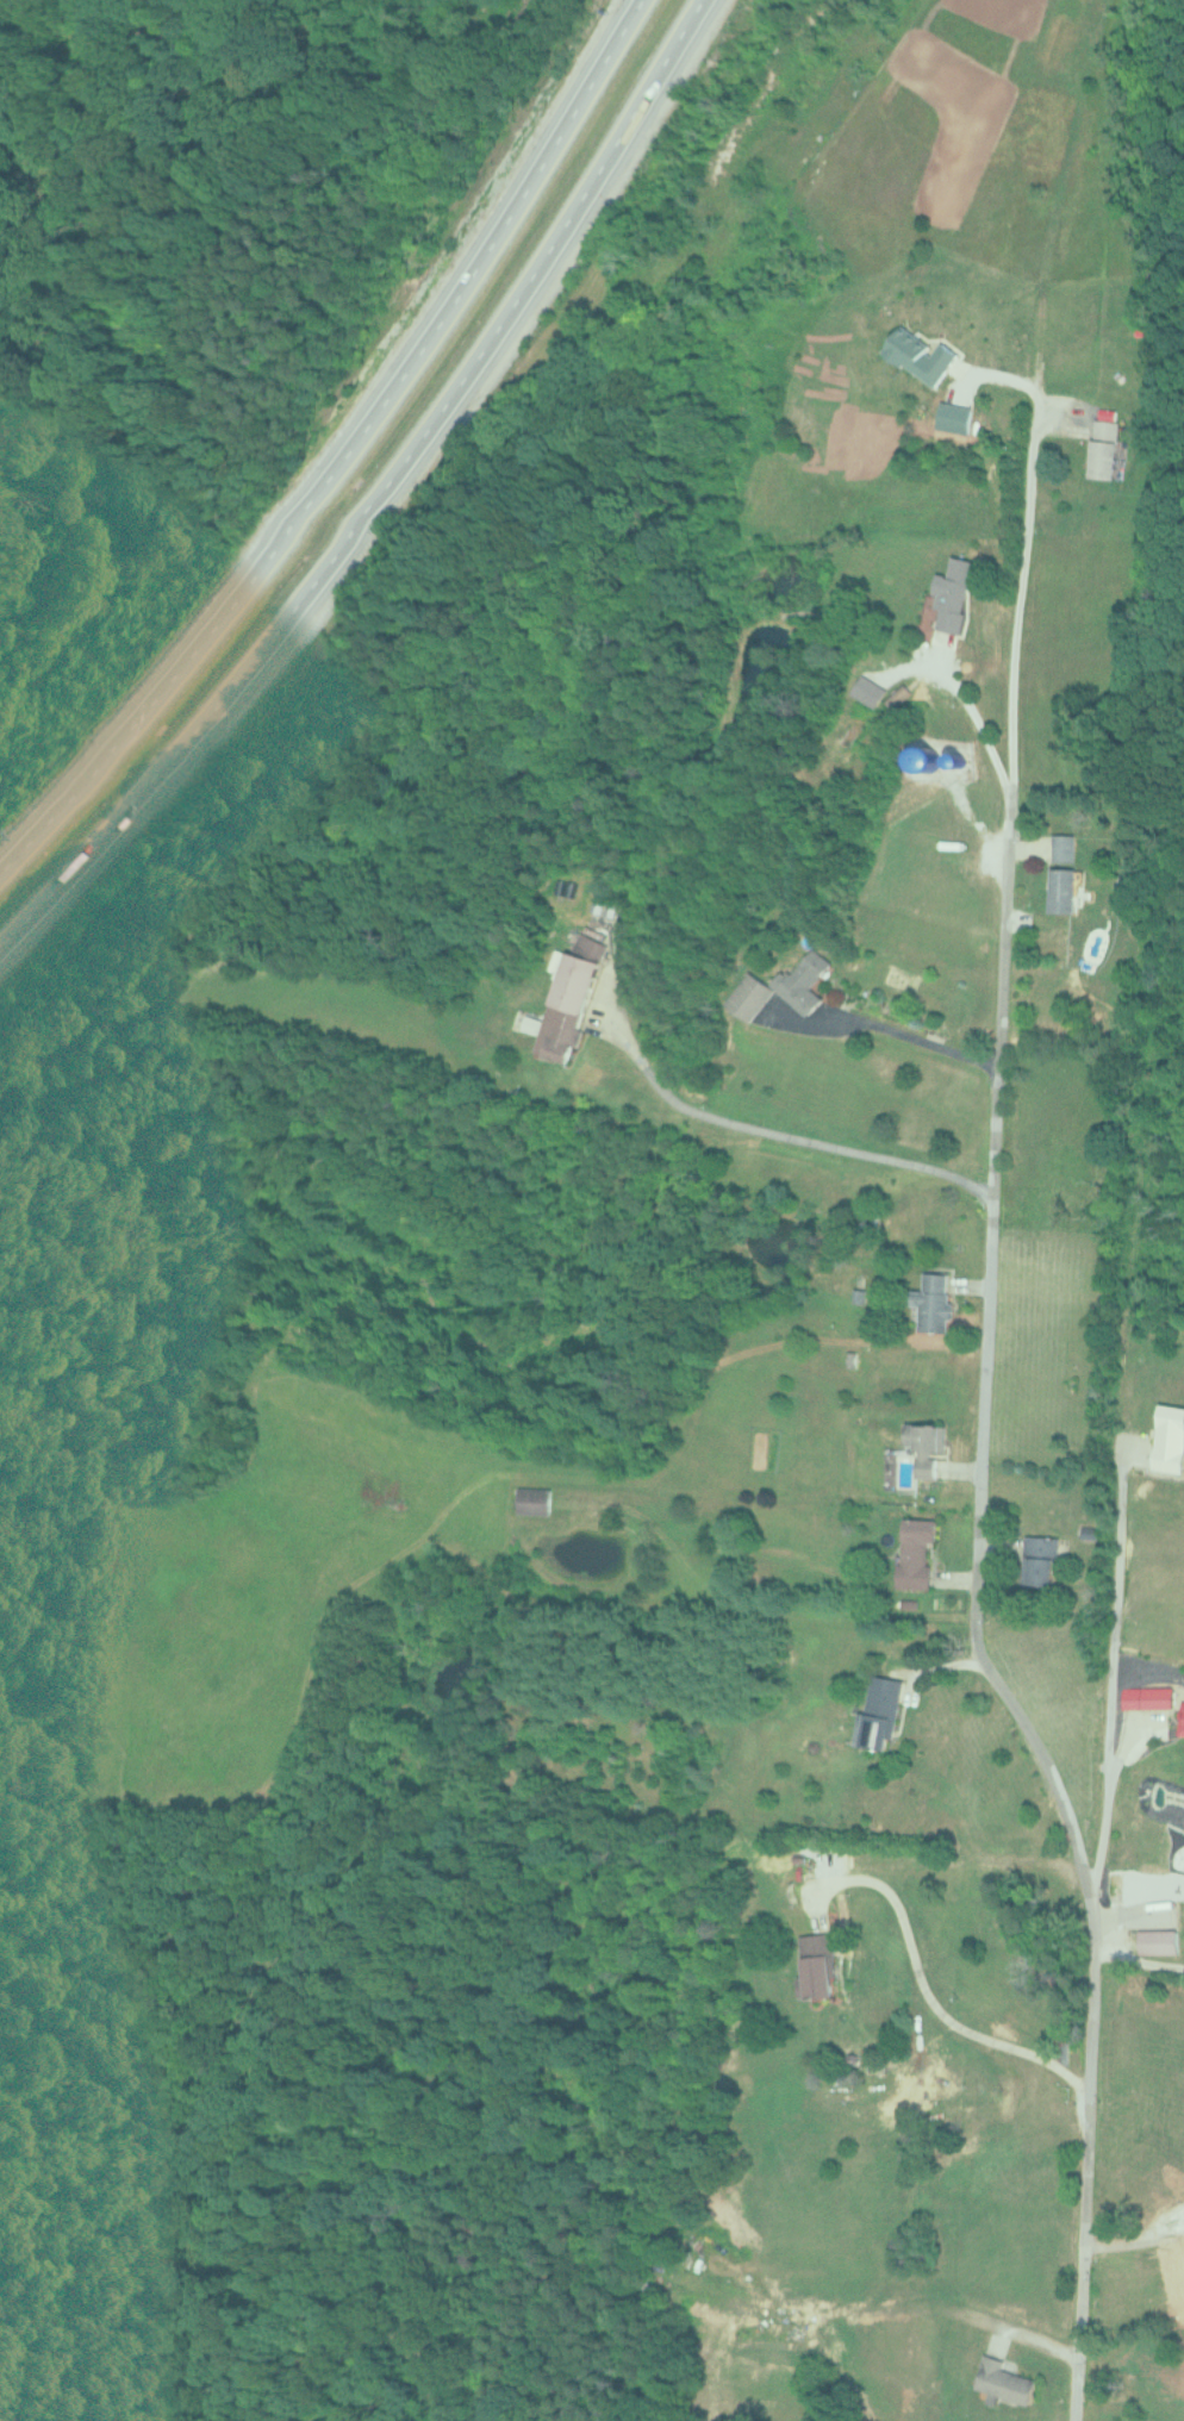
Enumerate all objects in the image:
building: (1103, 448)
road: (331, 449)
road: (390, 507)
building: (953, 593)
building: (868, 690)
building: (924, 757)
building: (1064, 848)
building: (1063, 890)
building: (805, 982)
building: (750, 997)
road: (775, 1134)
building: (934, 1303)
road: (983, 1428)
building: (927, 1449)
building: (1167, 1455)
building: (532, 1499)
building: (915, 1552)
building: (1039, 1558)
building: (1145, 1696)
building: (878, 1710)
building: (1182, 1716)
road: (1104, 1797)
building: (1158, 1940)
road: (1135, 1955)
building: (816, 1964)
building: (1180, 2234)
building: (1182, 2284)
building: (1003, 2381)

